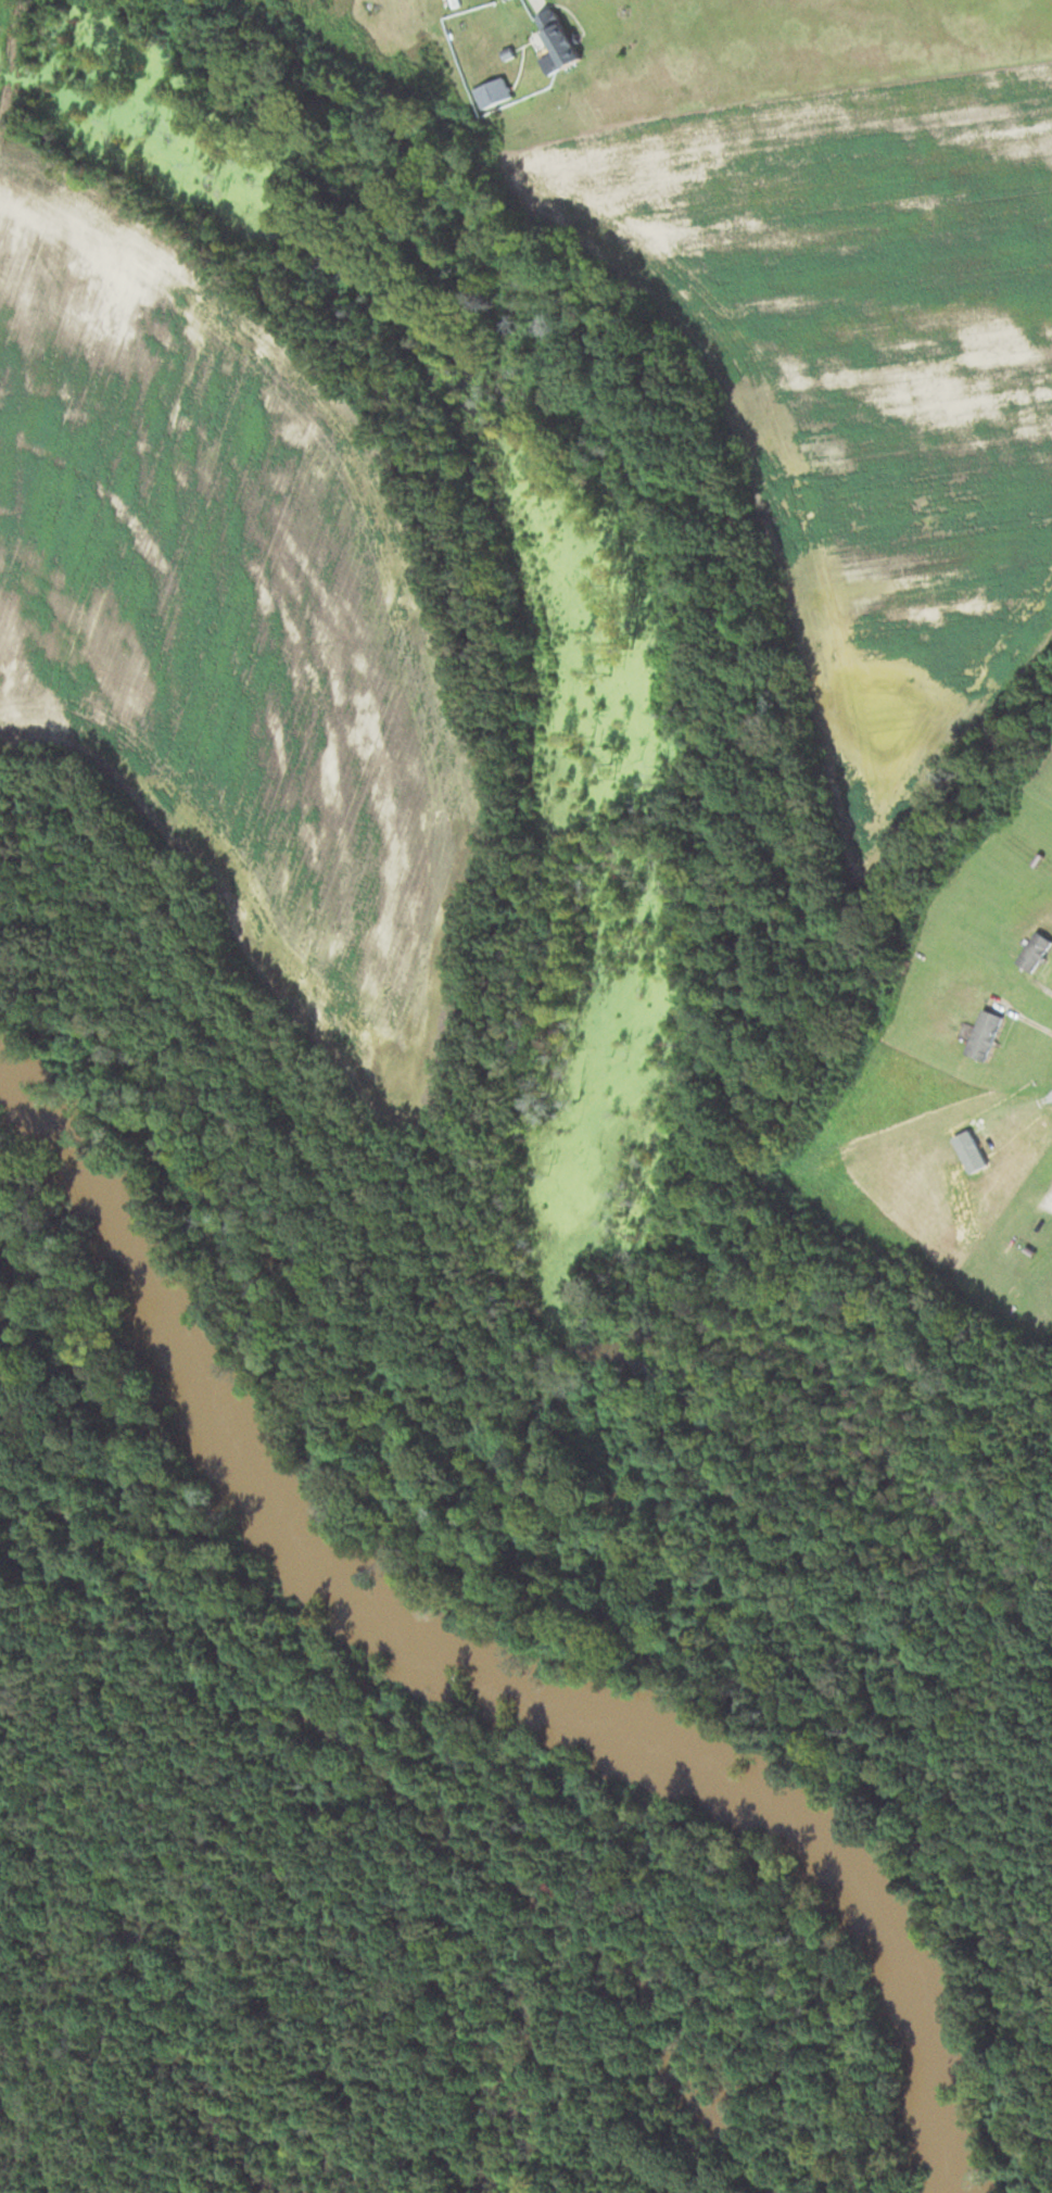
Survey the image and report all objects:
building: (557, 36)
building: (491, 91)
building: (1032, 949)
building: (890, 1001)
building: (983, 1033)
river: (473, 1654)

